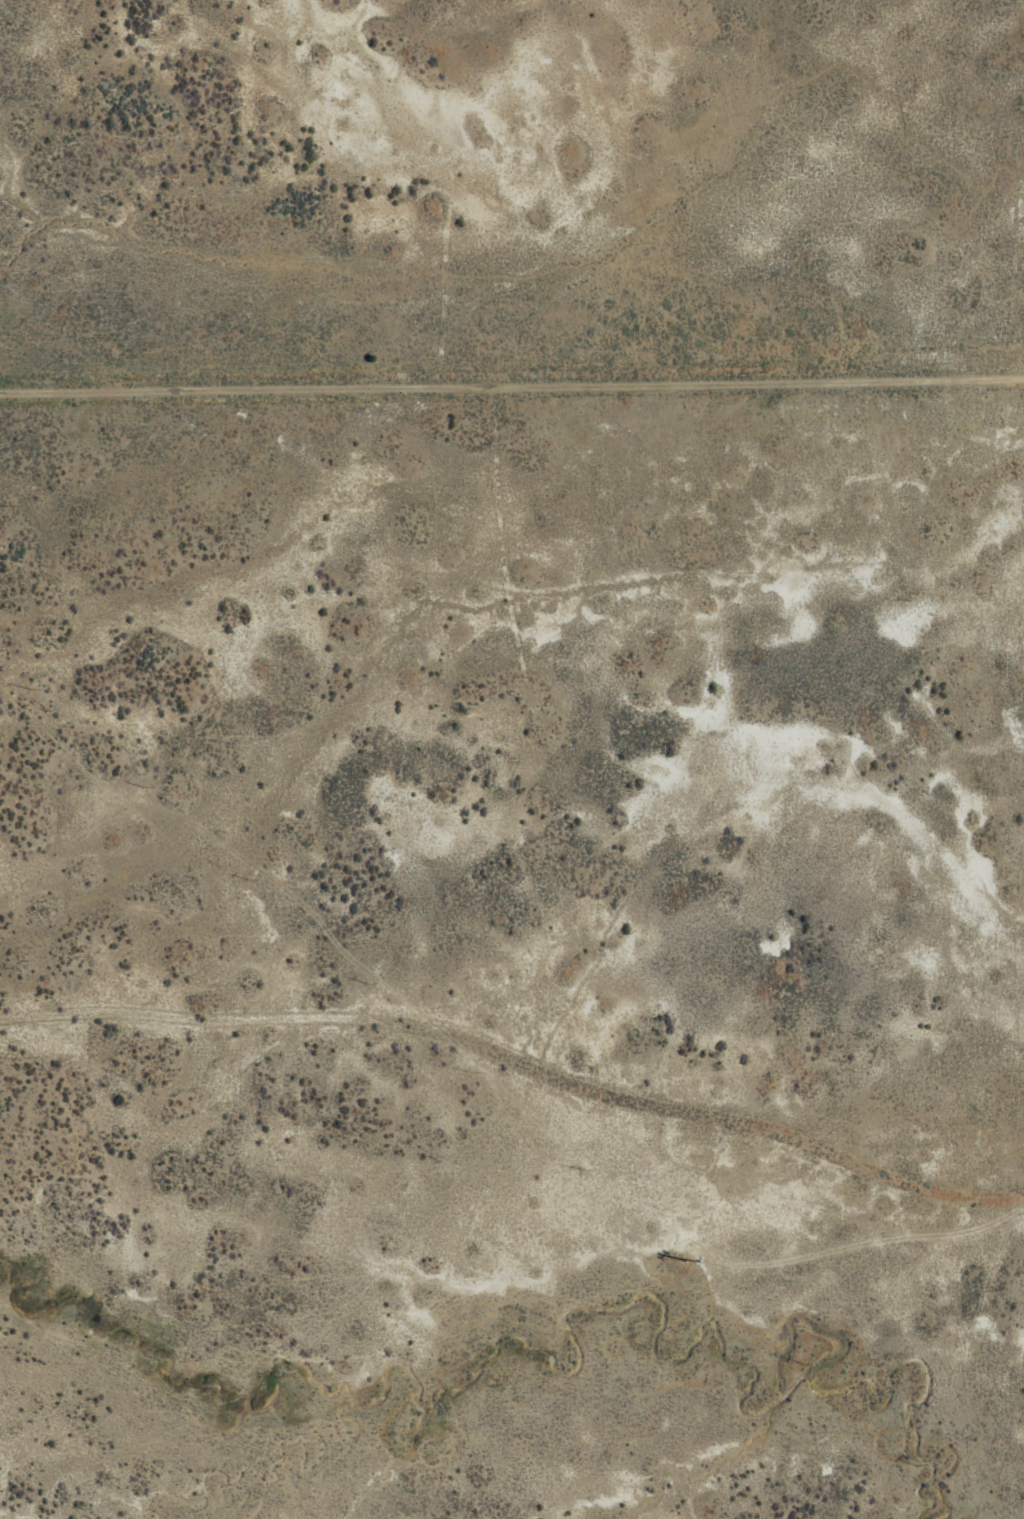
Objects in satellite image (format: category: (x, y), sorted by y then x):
road: (512, 375)
crop: (553, 760)

